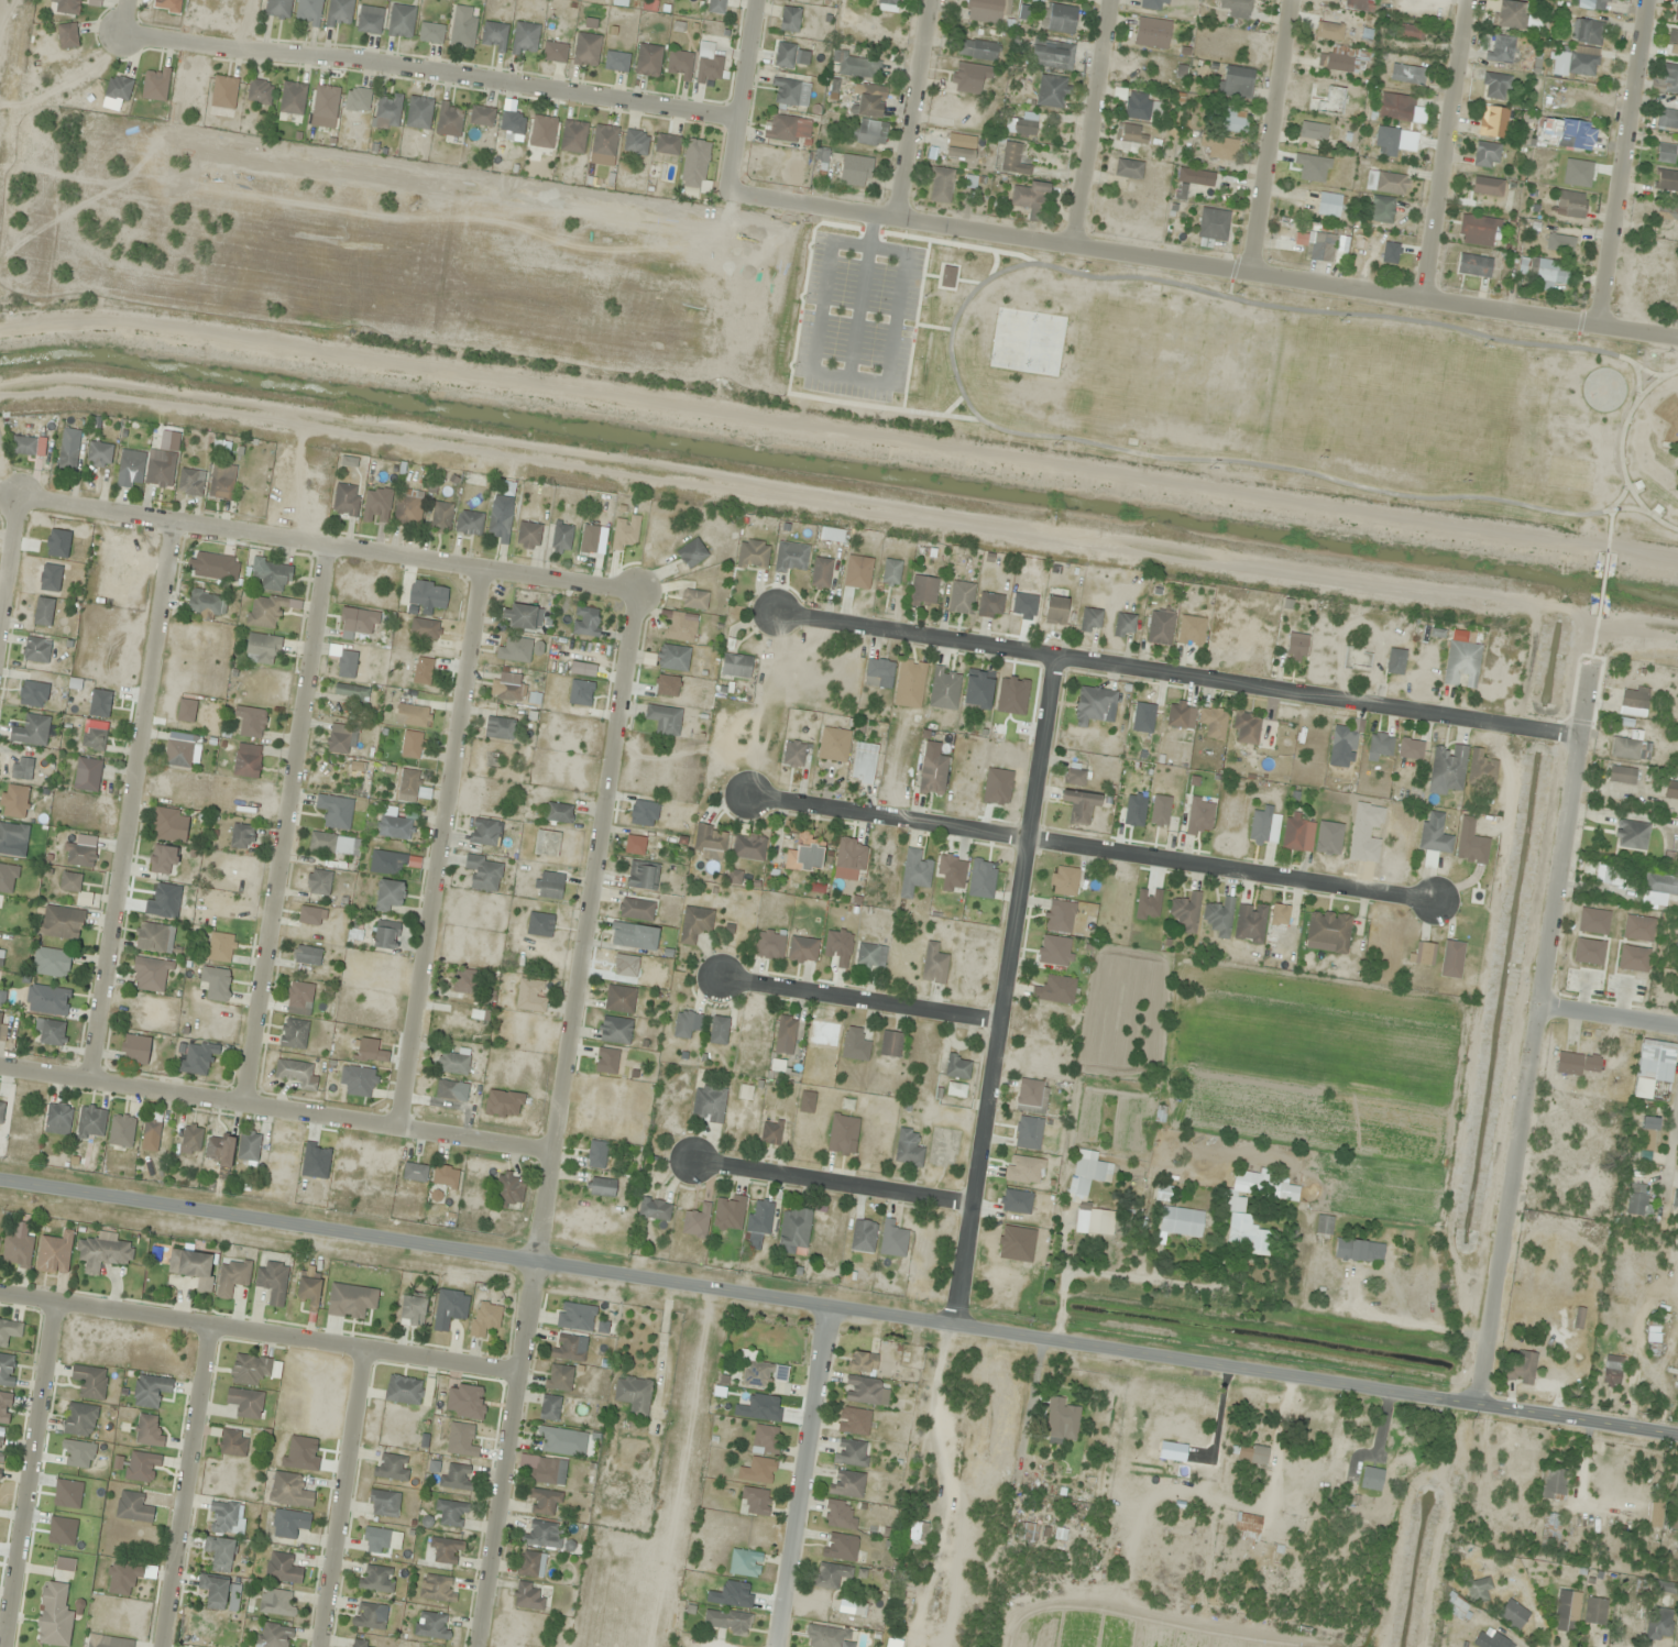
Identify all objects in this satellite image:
building: (1604, 1)
building: (1587, 2)
building: (1154, 4)
building: (1356, 4)
building: (69, 6)
building: (167, 6)
building: (888, 6)
building: (719, 7)
building: (276, 8)
building: (1237, 8)
building: (987, 10)
building: (1676, 10)
building: (308, 11)
building: (340, 12)
building: (1510, 14)
road: (123, 17)
building: (370, 19)
building: (790, 19)
building: (1060, 19)
building: (401, 20)
building: (463, 26)
building: (1328, 31)
building: (1408, 31)
building: (1152, 32)
building: (1589, 32)
building: (431, 33)
building: (67, 35)
building: (493, 36)
building: (525, 39)
building: (1672, 43)
building: (586, 48)
building: (977, 50)
building: (1502, 50)
building: (555, 52)
building: (1052, 54)
building: (791, 56)
building: (648, 59)
building: (1339, 59)
building: (616, 62)
building: (679, 65)
building: (857, 65)
building: (1575, 65)
building: (709, 70)
building: (1407, 74)
road: (432, 75)
building: (969, 77)
building: (1666, 80)
building: (1235, 81)
building: (155, 84)
building: (1494, 86)
building: (118, 88)
building: (260, 91)
building: (786, 91)
building: (1052, 91)
road: (747, 95)
building: (223, 96)
building: (358, 99)
building: (868, 99)
building: (292, 101)
building: (323, 106)
building: (1139, 106)
building: (1396, 107)
road: (915, 109)
building: (387, 110)
building: (419, 112)
building: (482, 116)
building: (450, 119)
building: (1667, 119)
building: (1233, 120)
building: (1493, 121)
road: (1095, 122)
building: (1022, 124)
building: (512, 125)
building: (787, 129)
building: (542, 131)
building: (1313, 131)
building: (868, 133)
building: (1568, 133)
building: (1132, 135)
road: (1266, 135)
building: (573, 136)
building: (1388, 140)
building: (604, 141)
building: (636, 142)
building: (667, 144)
building: (961, 146)
building: (1219, 147)
road: (1449, 150)
building: (1665, 153)
building: (1487, 155)
building: (821, 158)
building: (1012, 160)
road: (1622, 163)
building: (693, 168)
building: (1129, 169)
building: (855, 171)
building: (1196, 177)
building: (1667, 180)
building: (1388, 183)
building: (940, 185)
building: (1487, 186)
building: (1030, 199)
building: (1570, 204)
building: (1330, 205)
building: (1382, 209)
building: (1667, 212)
building: (1213, 226)
building: (1477, 230)
building: (1559, 243)
building: (1316, 244)
building: (1357, 252)
road: (1206, 264)
building: (1474, 265)
building: (1543, 272)
road: (950, 339)
park: (1257, 385)
building: (23, 446)
building: (68, 449)
road: (1623, 449)
building: (99, 454)
building: (130, 466)
building: (161, 469)
building: (190, 482)
building: (222, 482)
building: (346, 499)
building: (407, 507)
building: (441, 515)
building: (500, 519)
building: (469, 523)
building: (528, 536)
building: (561, 537)
road: (326, 542)
road: (7, 547)
building: (692, 553)
building: (753, 555)
building: (790, 558)
building: (215, 567)
building: (821, 572)
building: (857, 572)
building: (890, 573)
building: (271, 574)
building: (923, 591)
building: (961, 597)
building: (693, 599)
building: (206, 603)
building: (989, 605)
building: (1054, 610)
building: (265, 611)
building: (43, 612)
building: (522, 616)
building: (358, 621)
building: (585, 621)
building: (1090, 621)
building: (1123, 626)
building: (681, 627)
building: (1160, 627)
building: (424, 628)
building: (1191, 630)
building: (36, 649)
building: (262, 649)
building: (518, 649)
building: (1295, 649)
building: (672, 657)
building: (1395, 660)
building: (346, 663)
building: (1461, 663)
building: (736, 666)
building: (878, 672)
road: (1174, 673)
building: (909, 683)
building: (944, 688)
building: (977, 689)
building: (508, 691)
building: (350, 692)
building: (1634, 698)
building: (1093, 704)
building: (186, 711)
building: (1177, 714)
building: (413, 715)
building: (663, 720)
building: (250, 721)
building: (1213, 722)
building: (1246, 727)
building: (497, 728)
building: (31, 731)
building: (94, 738)
building: (341, 739)
building: (1344, 739)
building: (412, 744)
building: (833, 744)
building: (1379, 745)
building: (1411, 748)
building: (1624, 748)
building: (177, 753)
building: (793, 754)
building: (246, 760)
building: (863, 766)
building: (21, 768)
building: (1447, 769)
building: (1481, 769)
building: (87, 775)
building: (931, 775)
building: (1621, 775)
building: (1075, 777)
building: (407, 786)
building: (1670, 791)
road: (131, 800)
building: (12, 801)
building: (1079, 806)
building: (334, 812)
building: (558, 812)
building: (1199, 816)
road: (282, 823)
building: (394, 824)
building: (1264, 825)
building: (169, 827)
building: (1293, 831)
building: (483, 832)
building: (1434, 833)
building: (1631, 834)
building: (12, 835)
building: (241, 836)
building: (709, 842)
building: (546, 843)
building: (333, 845)
building: (634, 845)
road: (437, 847)
building: (748, 848)
building: (1471, 848)
building: (1677, 848)
road: (1089, 849)
building: (851, 854)
building: (78, 855)
building: (803, 856)
building: (162, 859)
building: (387, 863)
building: (948, 865)
building: (483, 872)
building: (914, 872)
building: (1603, 874)
building: (641, 876)
building: (981, 879)
building: (69, 881)
building: (1063, 881)
building: (318, 882)
building: (1660, 883)
building: (550, 889)
building: (387, 894)
building: (635, 909)
building: (1185, 912)
building: (1280, 914)
building: (310, 915)
building: (1059, 916)
building: (1218, 918)
building: (61, 922)
building: (1250, 922)
building: (539, 924)
building: (694, 924)
building: (355, 929)
building: (1328, 931)
building: (385, 935)
building: (633, 935)
building: (154, 937)
building: (1676, 943)
building: (768, 944)
building: (220, 947)
building: (802, 949)
building: (1055, 951)
building: (307, 955)
building: (1, 956)
building: (870, 956)
building: (1451, 958)
building: (51, 963)
building: (625, 965)
building: (933, 965)
building: (151, 975)
building: (464, 981)
building: (215, 984)
building: (1054, 989)
road: (1001, 990)
building: (530, 995)
building: (298, 998)
building: (618, 999)
road: (858, 999)
building: (46, 1000)
road: (1609, 1014)
building: (682, 1023)
building: (476, 1024)
building: (2, 1025)
building: (614, 1030)
building: (717, 1030)
building: (785, 1031)
building: (48, 1032)
building: (293, 1033)
road: (1534, 1036)
building: (890, 1044)
building: (854, 1045)
building: (134, 1050)
building: (196, 1057)
building: (452, 1061)
building: (1578, 1064)
building: (957, 1067)
building: (1653, 1067)
building: (615, 1068)
building: (297, 1074)
building: (357, 1081)
building: (955, 1090)
building: (1031, 1096)
building: (708, 1104)
road: (274, 1109)
building: (1, 1110)
road: (555, 1118)
building: (57, 1119)
building: (90, 1123)
building: (1024, 1129)
building: (151, 1130)
building: (121, 1131)
building: (770, 1132)
building: (1647, 1133)
building: (842, 1134)
building: (191, 1137)
building: (248, 1146)
building: (219, 1149)
building: (908, 1149)
building: (415, 1172)
building: (445, 1177)
road: (831, 1178)
building: (1248, 1182)
building: (602, 1187)
building: (509, 1190)
building: (1078, 1192)
building: (1287, 1192)
building: (1675, 1198)
building: (1638, 1200)
building: (654, 1209)
building: (728, 1212)
building: (760, 1214)
building: (1180, 1221)
building: (695, 1222)
building: (1324, 1225)
building: (1243, 1226)
building: (793, 1229)
building: (863, 1236)
building: (892, 1239)
building: (17, 1250)
building: (1358, 1251)
building: (102, 1252)
building: (54, 1253)
building: (191, 1267)
building: (232, 1277)
building: (271, 1282)
building: (308, 1289)
building: (350, 1300)
building: (449, 1309)
building: (412, 1311)
road: (837, 1311)
building: (575, 1317)
building: (1578, 1318)
building: (484, 1319)
building: (9, 1331)
road: (257, 1331)
building: (567, 1348)
building: (862, 1362)
building: (1522, 1369)
building: (7, 1370)
building: (253, 1370)
building: (1612, 1371)
building: (761, 1374)
building: (558, 1377)
building: (89, 1381)
building: (403, 1390)
building: (150, 1391)
building: (866, 1391)
building: (633, 1395)
building: (464, 1402)
building: (244, 1403)
building: (4, 1407)
building: (549, 1407)
building: (1677, 1407)
building: (79, 1419)
building: (1061, 1420)
building: (853, 1421)
building: (147, 1431)
building: (766, 1439)
building: (460, 1440)
building: (555, 1440)
building: (232, 1442)
building: (1, 1447)
building: (851, 1453)
building: (1249, 1453)
building: (1521, 1458)
building: (141, 1467)
building: (391, 1467)
building: (547, 1471)
building: (758, 1471)
building: (0, 1472)
road: (25, 1473)
building: (456, 1476)
road: (803, 1479)
building: (1372, 1479)
building: (846, 1483)
road: (183, 1485)
building: (1551, 1485)
building: (289, 1491)
road: (342, 1497)
building: (544, 1502)
building: (754, 1502)
building: (383, 1503)
building: (132, 1507)
building: (1654, 1512)
building: (451, 1513)
building: (837, 1515)
building: (224, 1517)
building: (1672, 1518)
building: (288, 1524)
building: (1246, 1527)
building: (1549, 1530)
building: (1026, 1533)
building: (542, 1534)
building: (911, 1536)
building: (381, 1540)
building: (840, 1547)
building: (446, 1550)
building: (220, 1553)
building: (745, 1563)
building: (530, 1564)
building: (282, 1568)
building: (832, 1575)
building: (375, 1578)
building: (1664, 1586)
building: (437, 1588)
building: (1479, 1591)
building: (215, 1592)
building: (527, 1596)
building: (275, 1603)
building: (1457, 1607)
building: (1566, 1611)
building: (1594, 1612)
building: (1512, 1614)
building: (53, 1616)
building: (368, 1616)
building: (726, 1621)
building: (1659, 1624)
building: (431, 1625)
building: (273, 1635)
building: (829, 1637)
building: (893, 1639)
building: (1490, 1639)
building: (113, 1643)
building: (359, 1644)

